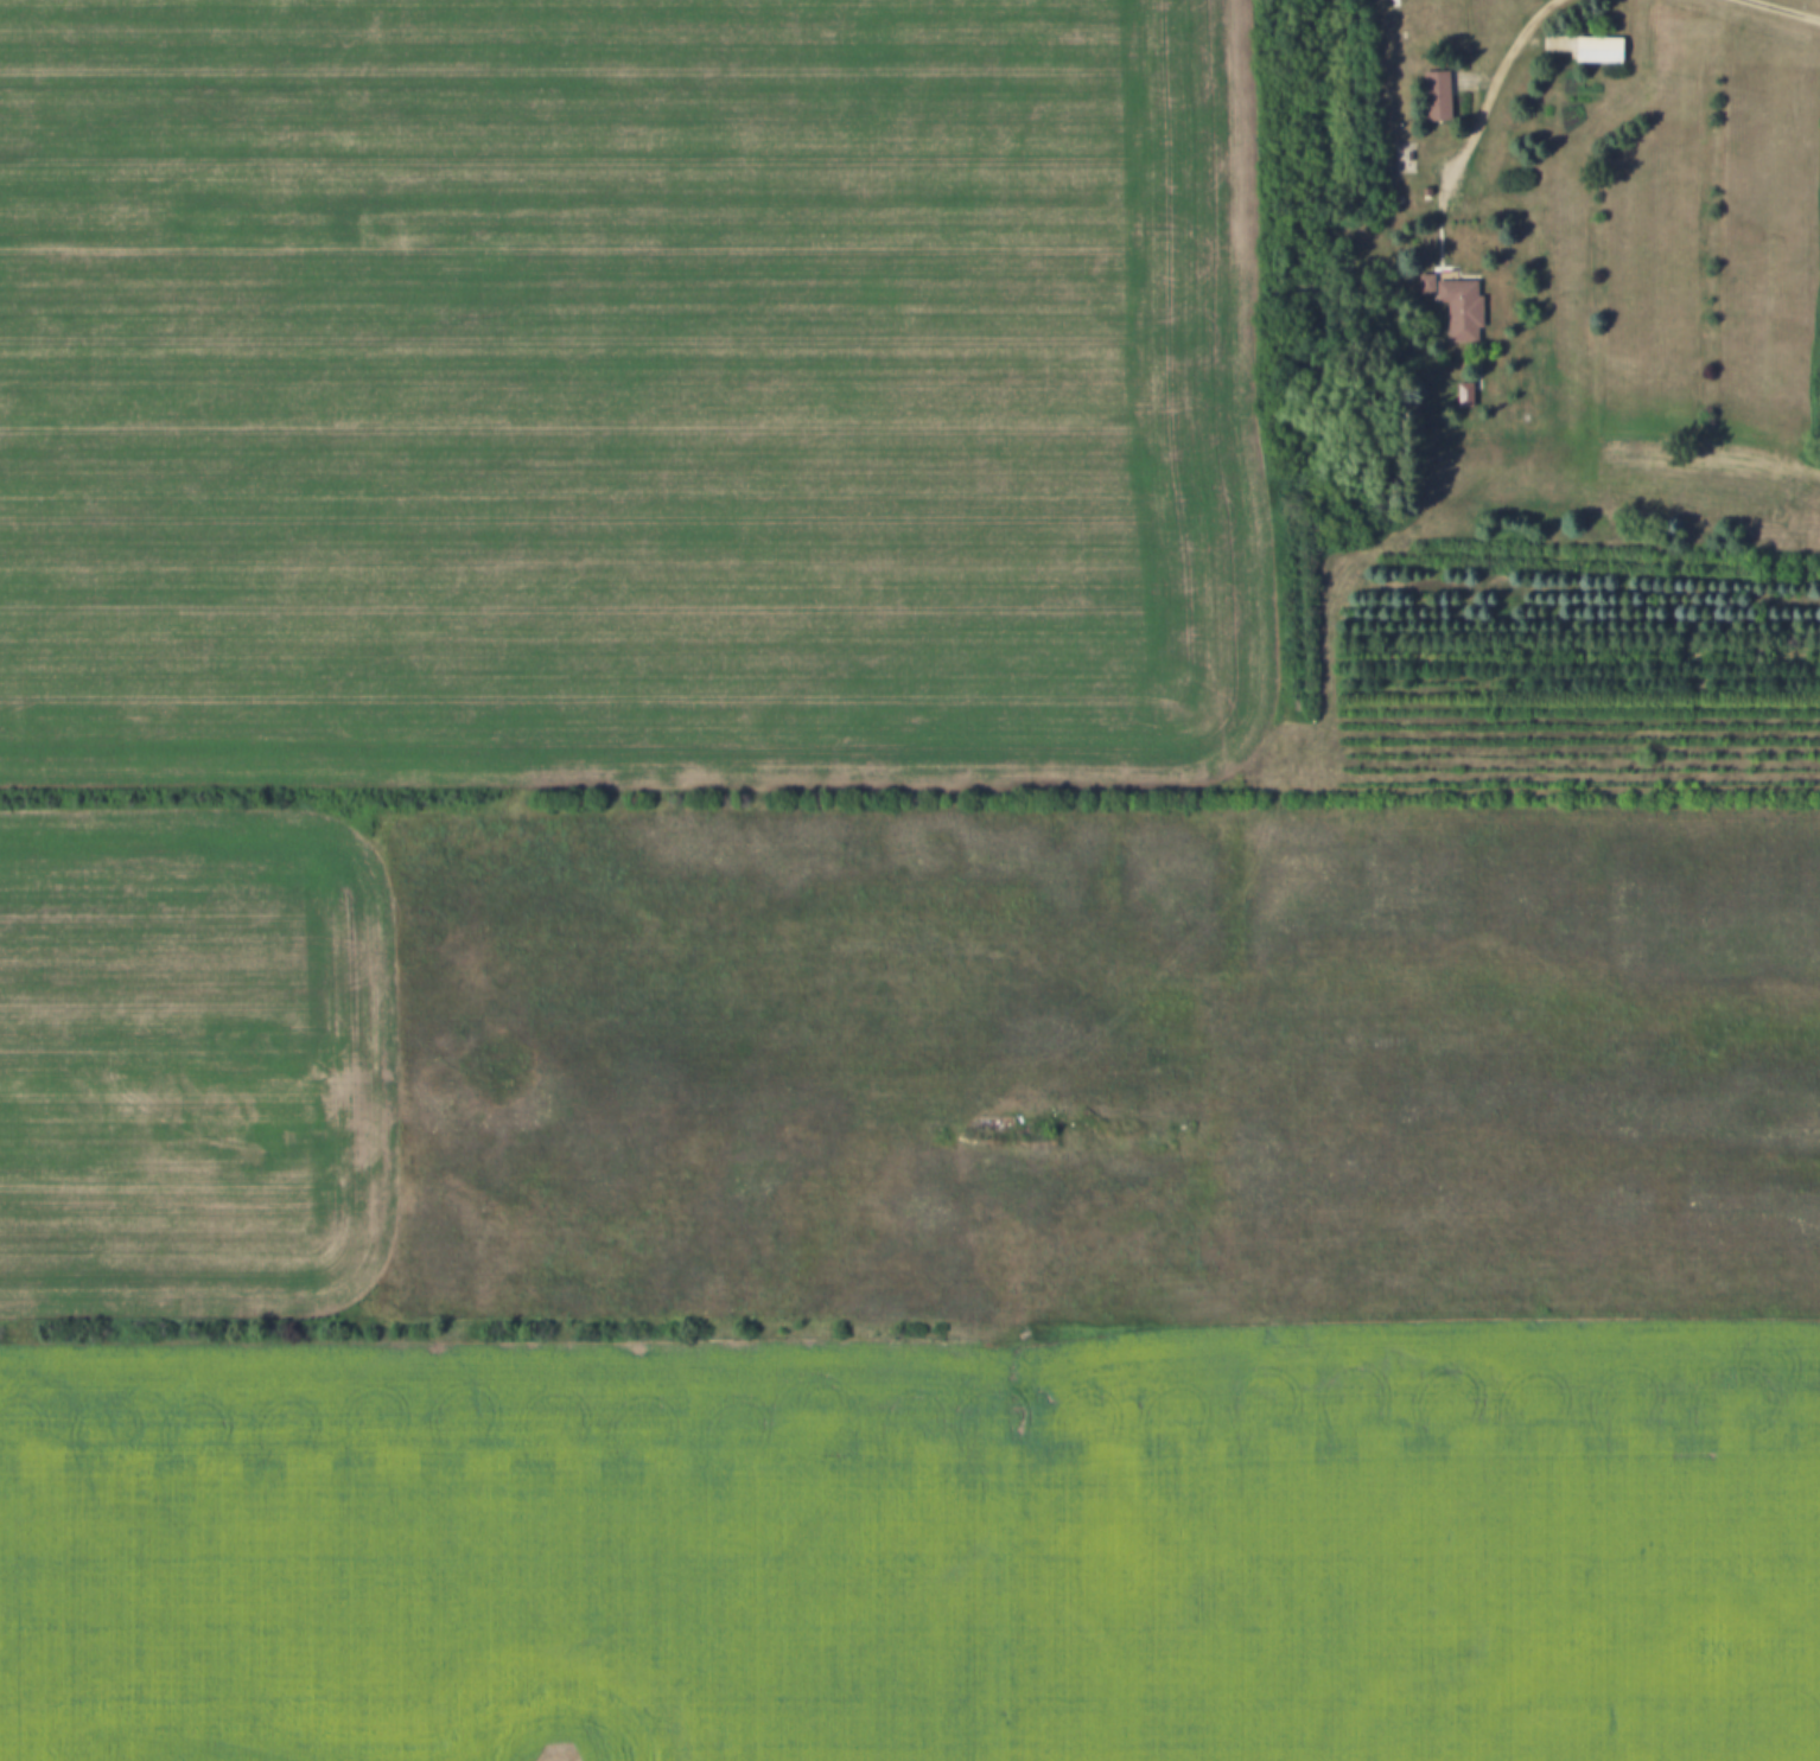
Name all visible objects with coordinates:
road: (1789, 7)
building: (1601, 51)
road: (1491, 89)
building: (1436, 98)
building: (1457, 308)

